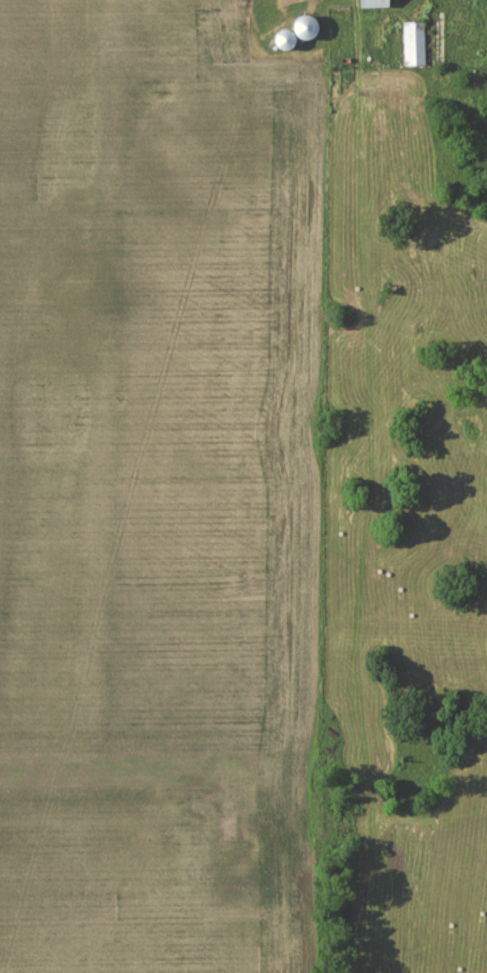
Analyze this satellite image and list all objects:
building: (377, 3)
silo: (307, 27)
silo: (286, 39)
building: (417, 43)

